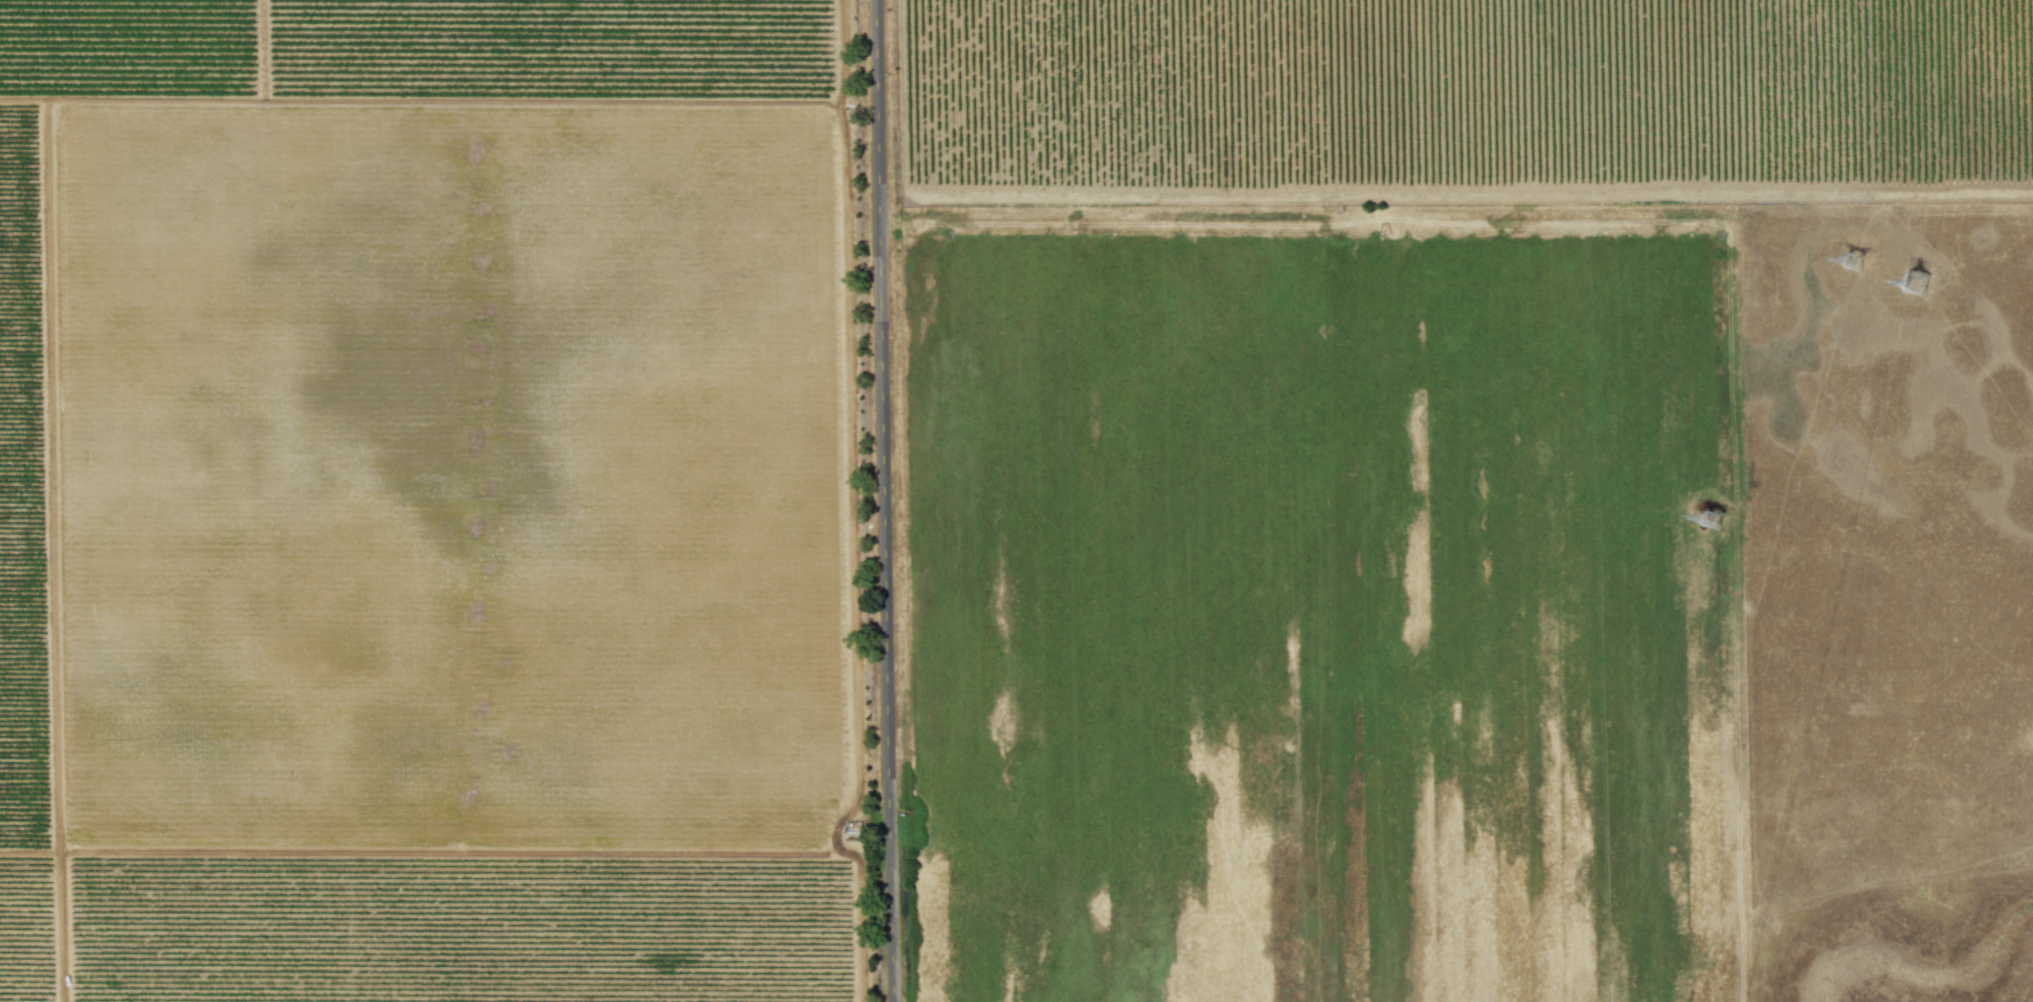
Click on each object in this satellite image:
power tower: (1849, 254)
power tower: (1926, 272)
road: (884, 501)
crop: (1016, 501)
power tower: (1716, 522)

